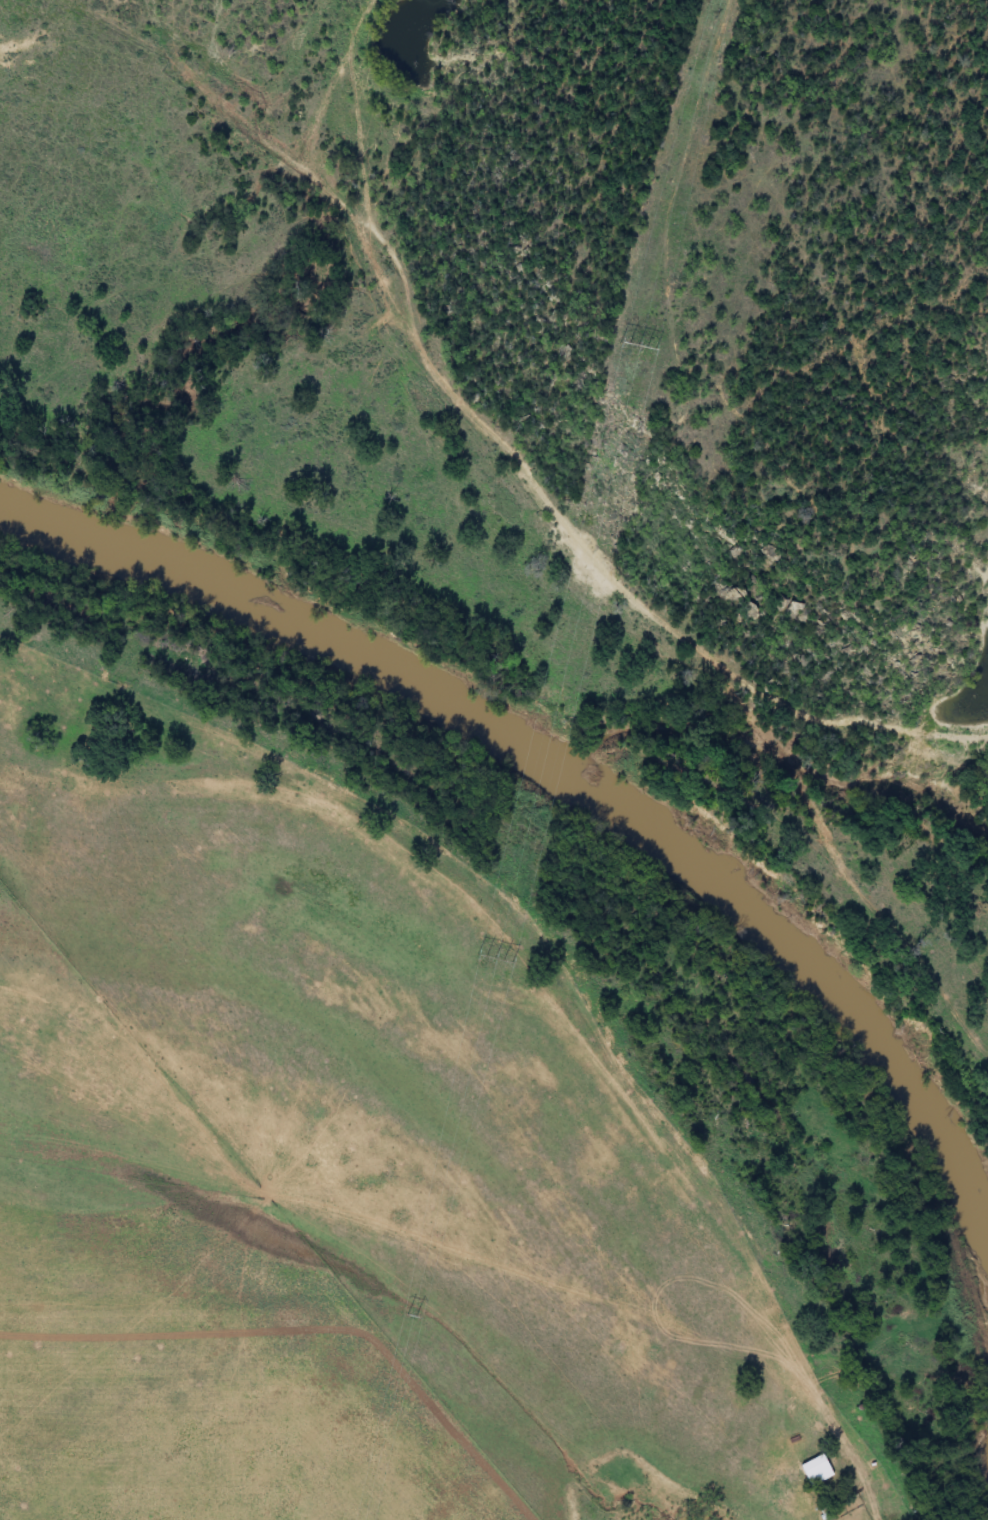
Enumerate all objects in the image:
building: (813, 1470)
railway: (980, 1512)

